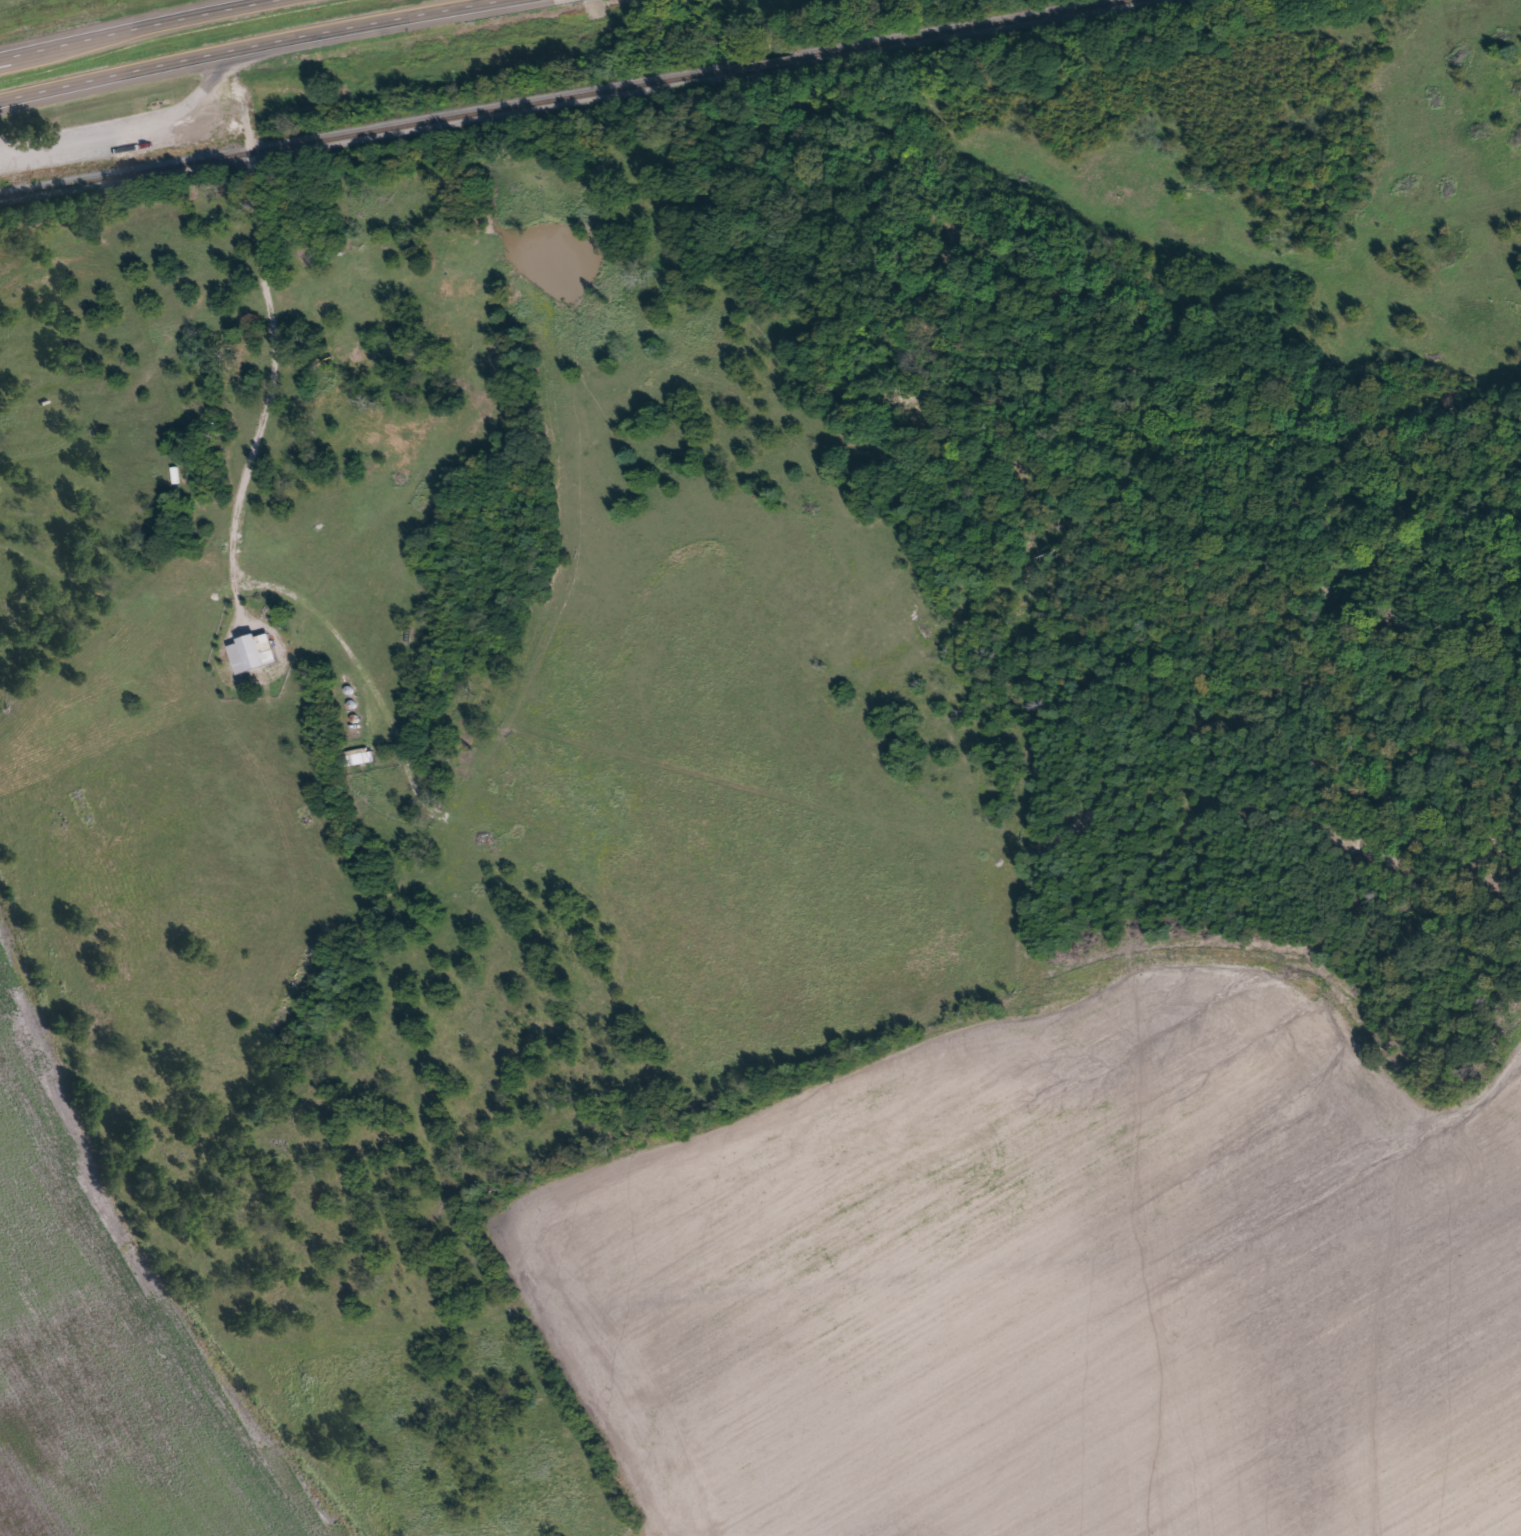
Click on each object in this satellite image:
road: (135, 29)
road: (217, 43)
railway: (559, 98)
road: (246, 113)
road: (137, 1244)
road: (613, 1528)

